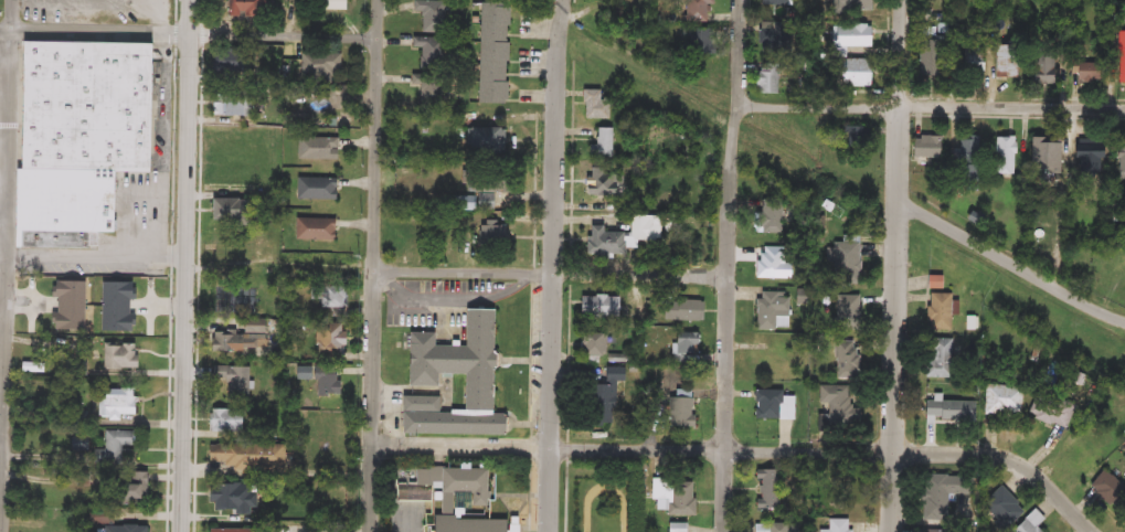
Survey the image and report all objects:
building: (773, 2)
building: (340, 6)
building: (852, 6)
building: (255, 9)
building: (696, 10)
building: (434, 15)
road: (161, 18)
road: (189, 36)
building: (850, 36)
building: (434, 52)
building: (498, 54)
building: (928, 58)
road: (4, 60)
building: (1007, 62)
building: (240, 63)
building: (969, 65)
building: (325, 66)
building: (1046, 66)
building: (1122, 66)
building: (1085, 73)
building: (852, 74)
building: (765, 83)
building: (432, 91)
road: (4, 100)
building: (596, 105)
building: (236, 106)
road: (928, 109)
building: (88, 132)
road: (4, 140)
building: (485, 142)
building: (602, 145)
building: (926, 148)
building: (322, 150)
building: (968, 156)
building: (1005, 157)
building: (1121, 157)
building: (1047, 158)
building: (1087, 159)
building: (599, 182)
road: (3, 183)
building: (316, 189)
building: (480, 192)
building: (229, 211)
building: (771, 217)
road: (3, 222)
building: (314, 230)
building: (491, 236)
building: (603, 243)
building: (777, 263)
road: (1009, 264)
road: (6, 265)
road: (97, 265)
road: (374, 265)
road: (553, 265)
road: (734, 265)
building: (845, 265)
road: (894, 265)
road: (188, 266)
road: (460, 276)
building: (934, 283)
building: (331, 301)
building: (597, 306)
building: (682, 310)
building: (848, 310)
building: (771, 311)
building: (938, 312)
building: (241, 339)
building: (328, 340)
building: (682, 345)
building: (594, 347)
building: (118, 357)
building: (940, 358)
building: (847, 359)
building: (449, 360)
building: (233, 381)
building: (329, 385)
building: (676, 400)
building: (1002, 401)
building: (602, 402)
building: (115, 404)
building: (772, 405)
building: (843, 409)
building: (956, 411)
building: (1050, 411)
road: (1, 434)
building: (115, 446)
building: (1089, 448)
road: (743, 453)
building: (246, 456)
building: (125, 488)
building: (1108, 491)
building: (771, 492)
building: (943, 494)
building: (231, 499)
building: (677, 502)
building: (441, 507)
building: (1002, 509)
building: (1029, 524)
building: (676, 528)
building: (771, 528)
building: (837, 528)
building: (124, 529)
building: (227, 531)
building: (935, 531)

